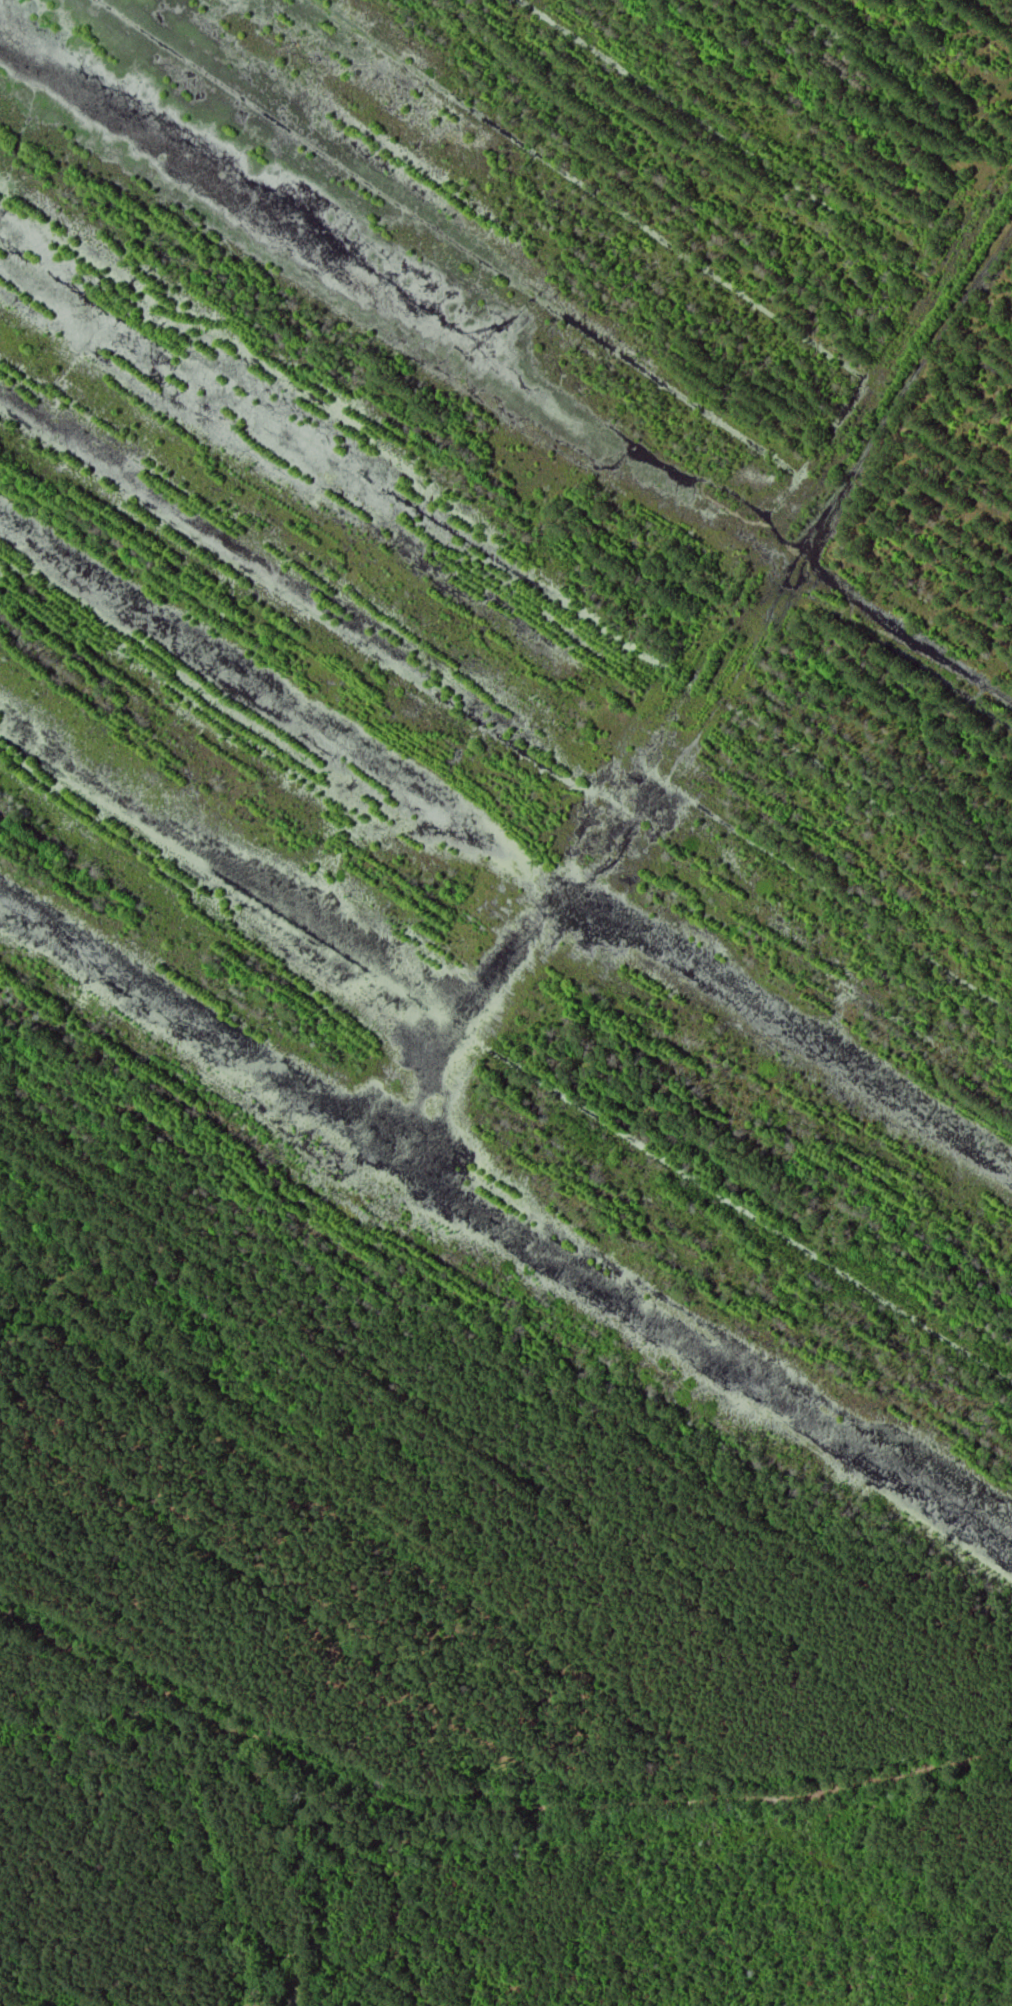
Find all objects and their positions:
road: (287, 1997)

